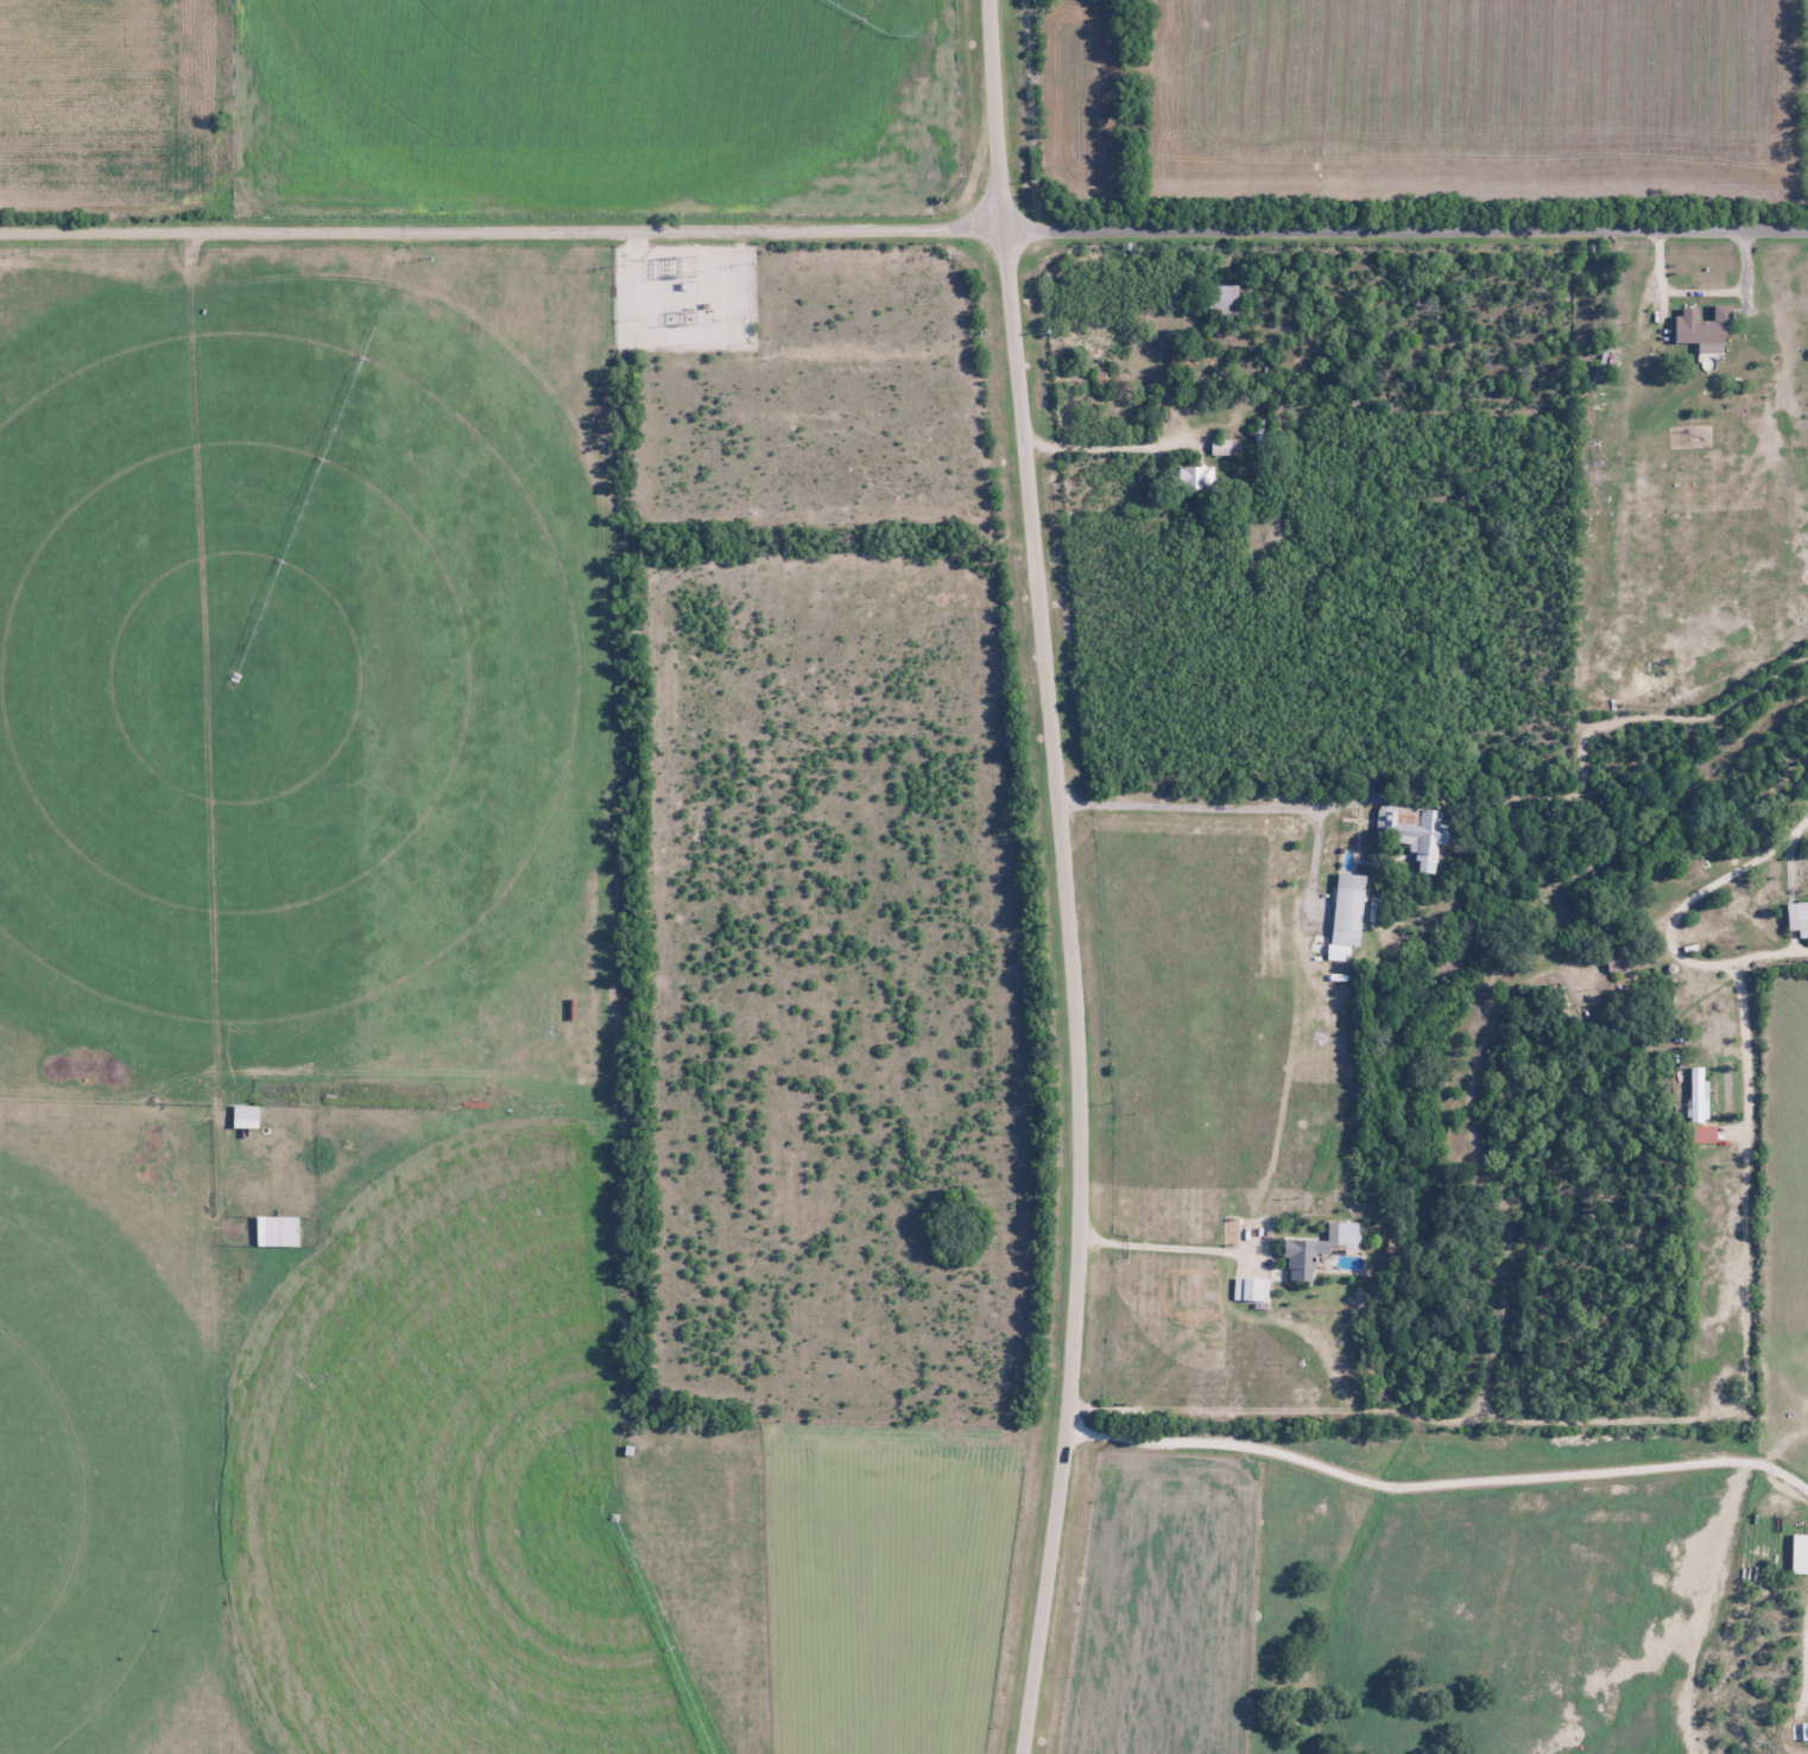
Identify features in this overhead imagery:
road: (904, 227)
power tower: (1129, 243)
road: (637, 245)
power tower: (1295, 246)
power tower: (26, 249)
power tower: (1586, 249)
power tower: (223, 251)
power tower: (950, 252)
power tower: (429, 255)
power tower: (754, 262)
power tower: (622, 264)
power tower: (677, 268)
power tower: (696, 268)
power substation: (684, 296)
building: (1221, 298)
building: (1695, 329)
building: (1195, 479)
road: (1239, 805)
building: (1411, 832)
road: (1067, 876)
building: (1347, 903)
building: (1796, 914)
building: (1706, 932)
building: (245, 1112)
building: (1341, 1233)
road: (1171, 1249)
building: (1374, 1258)
road: (1772, 1449)
road: (1437, 1484)
building: (1804, 1729)

